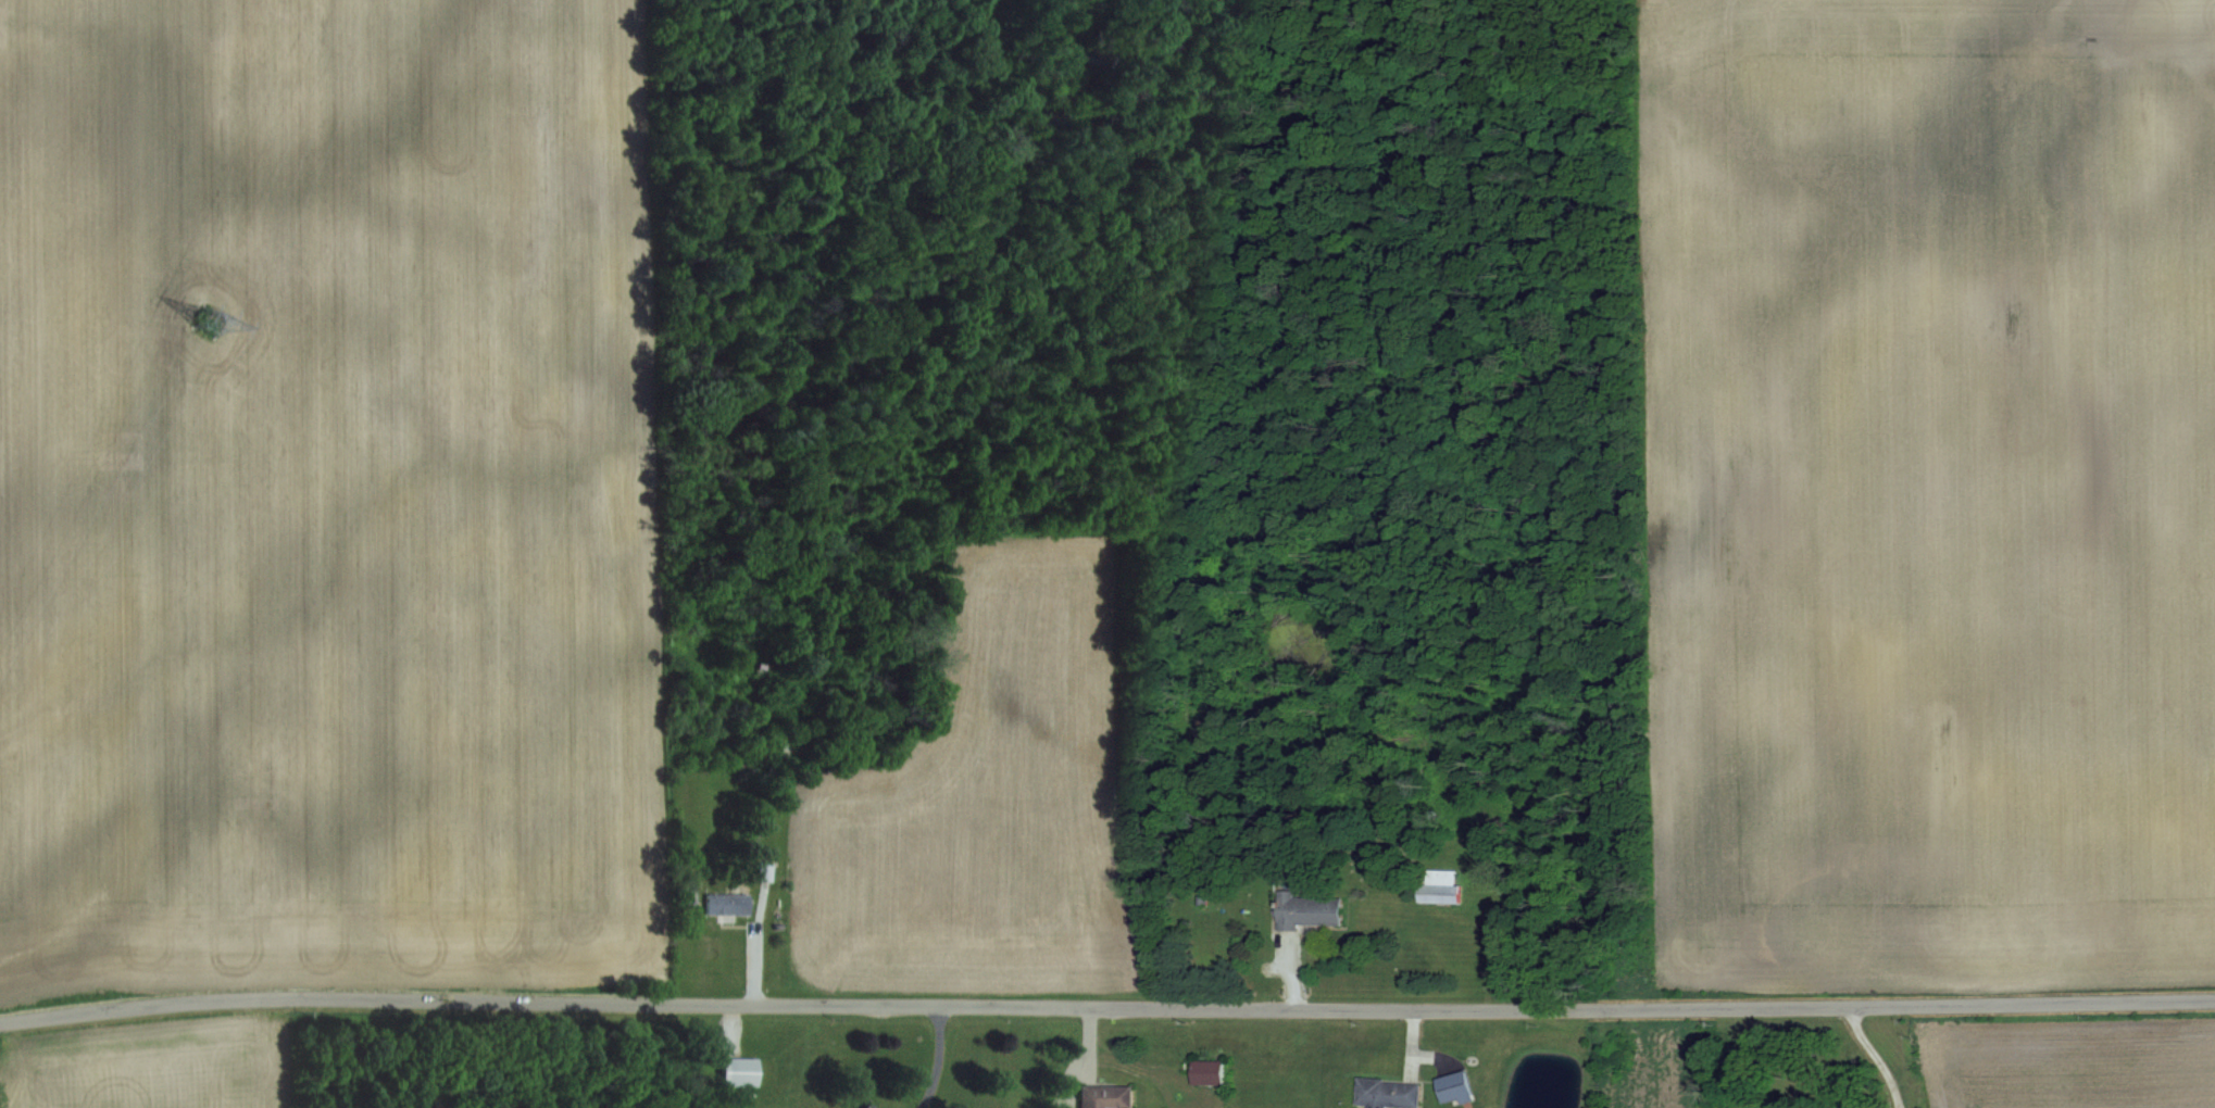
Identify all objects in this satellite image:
power tower: (209, 323)
building: (1439, 885)
building: (726, 903)
building: (1309, 909)
road: (1106, 1007)
building: (740, 1070)
building: (1207, 1071)
building: (1386, 1093)
building: (1105, 1096)
building: (865, 1106)

